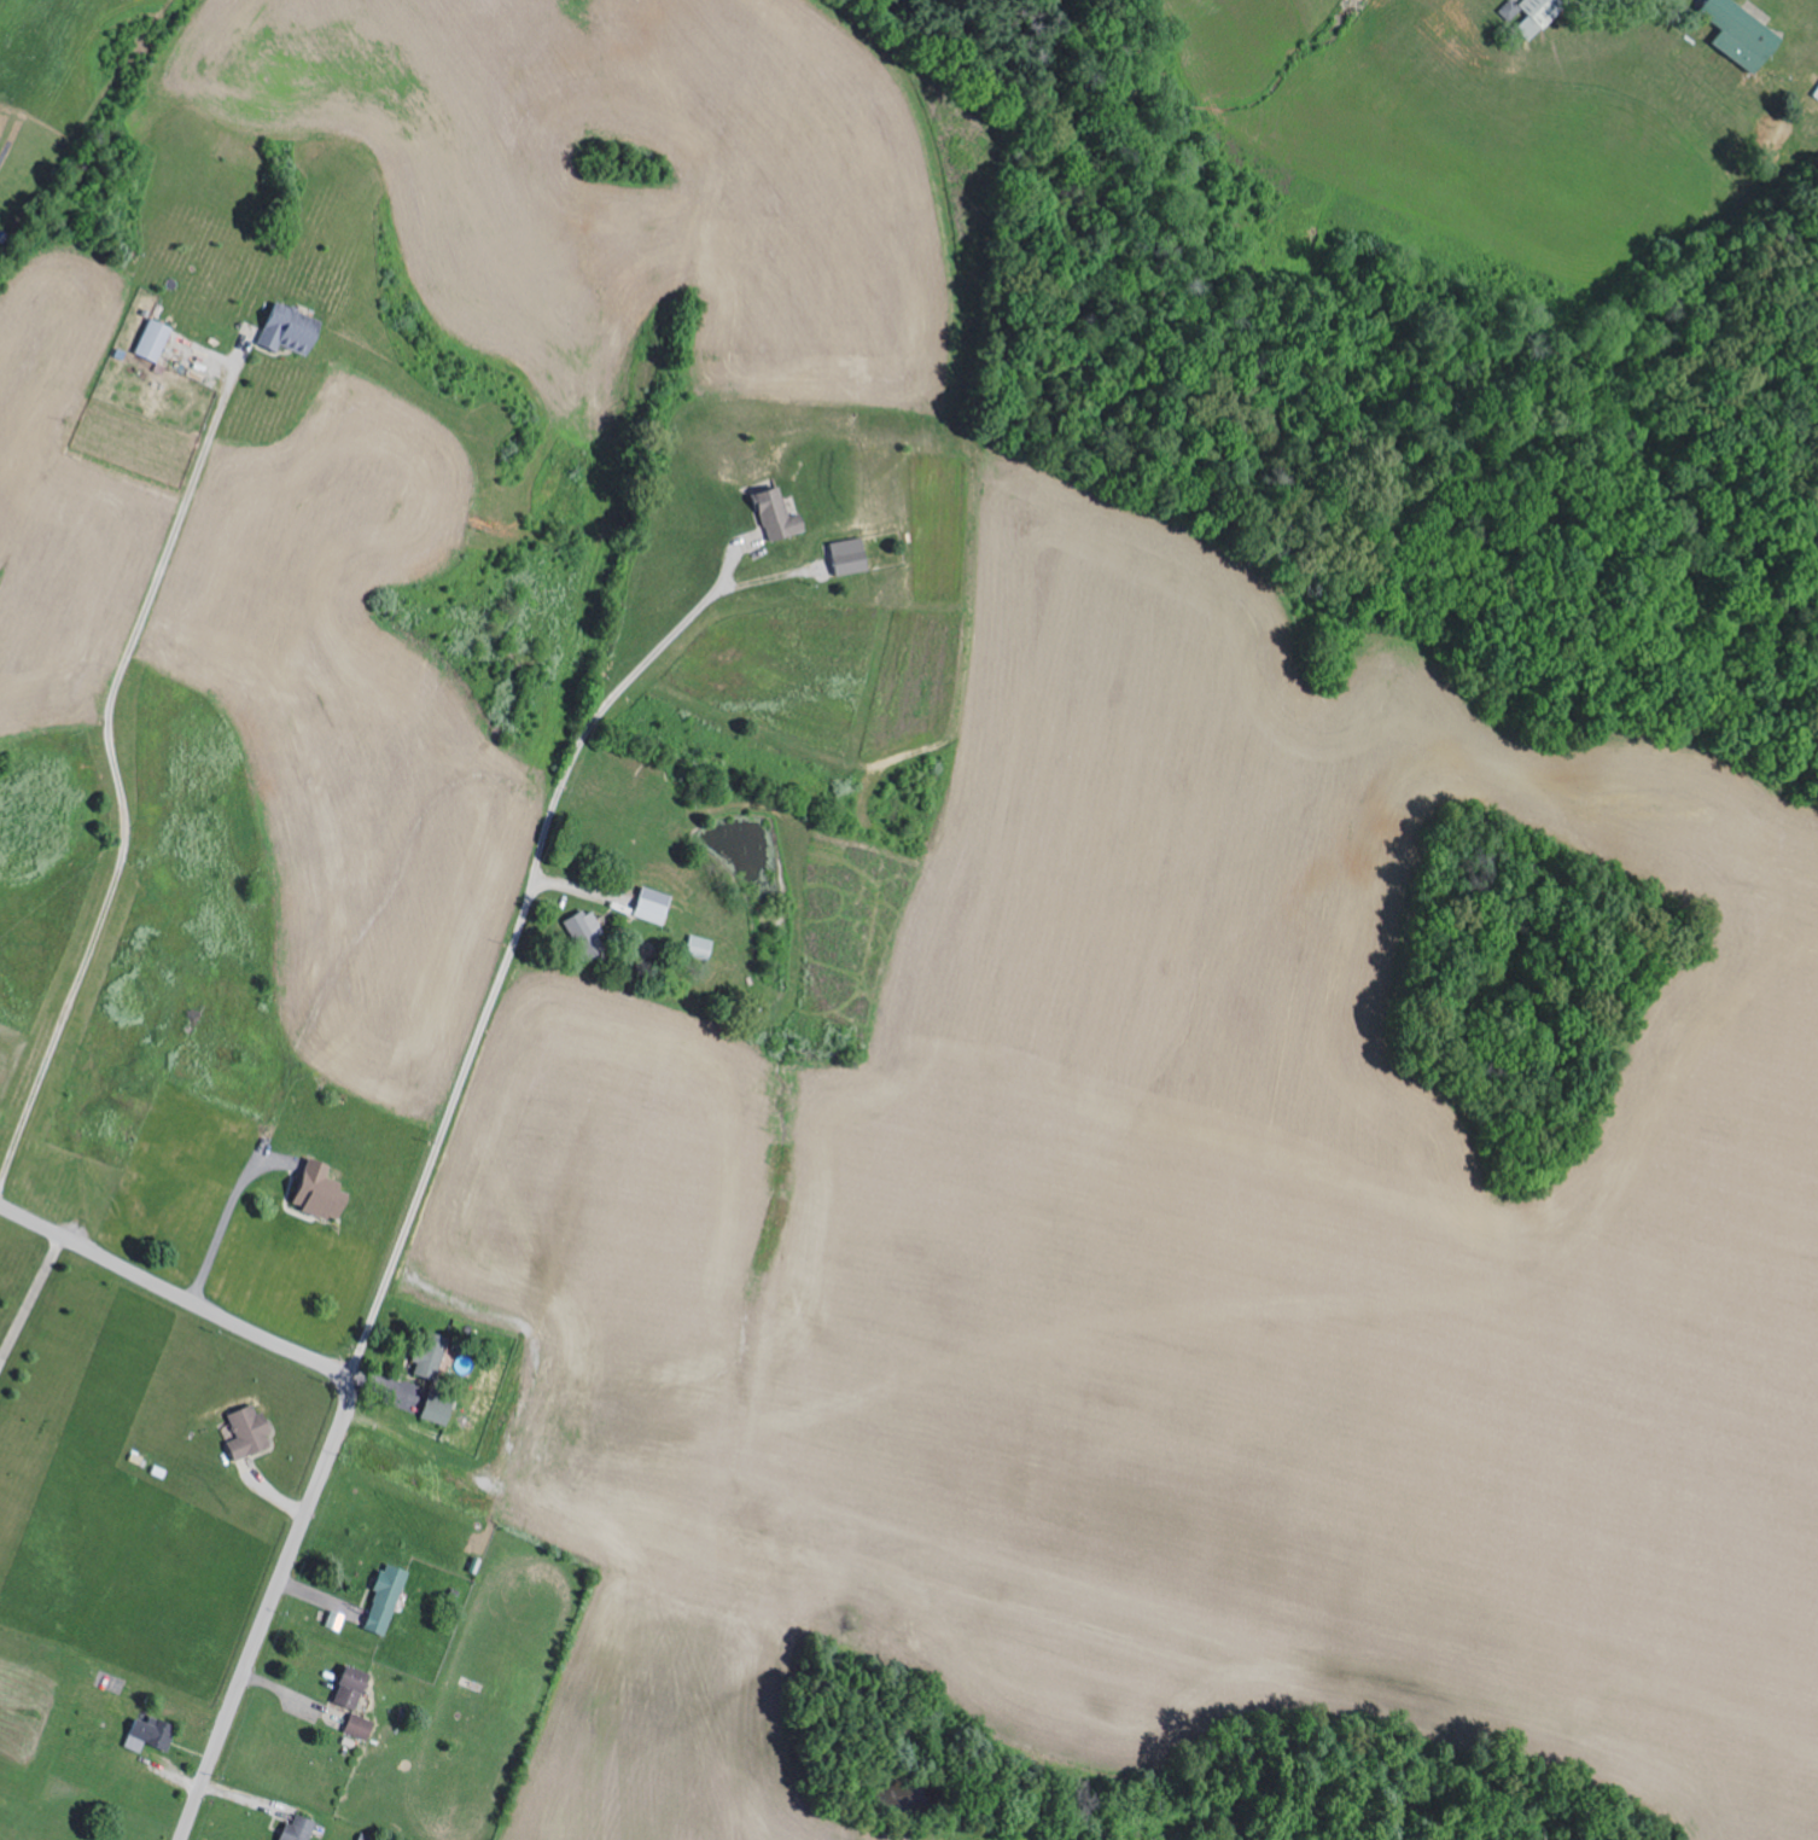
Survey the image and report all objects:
building: (1523, 13)
building: (1733, 33)
building: (295, 330)
building: (155, 339)
building: (771, 513)
building: (843, 555)
road: (611, 697)
road: (115, 767)
building: (648, 904)
building: (582, 927)
building: (695, 947)
road: (439, 1134)
building: (311, 1190)
road: (30, 1299)
building: (426, 1350)
building: (432, 1405)
road: (338, 1431)
building: (243, 1432)
building: (380, 1597)
building: (344, 1685)
building: (356, 1727)
building: (146, 1734)
building: (293, 1829)

